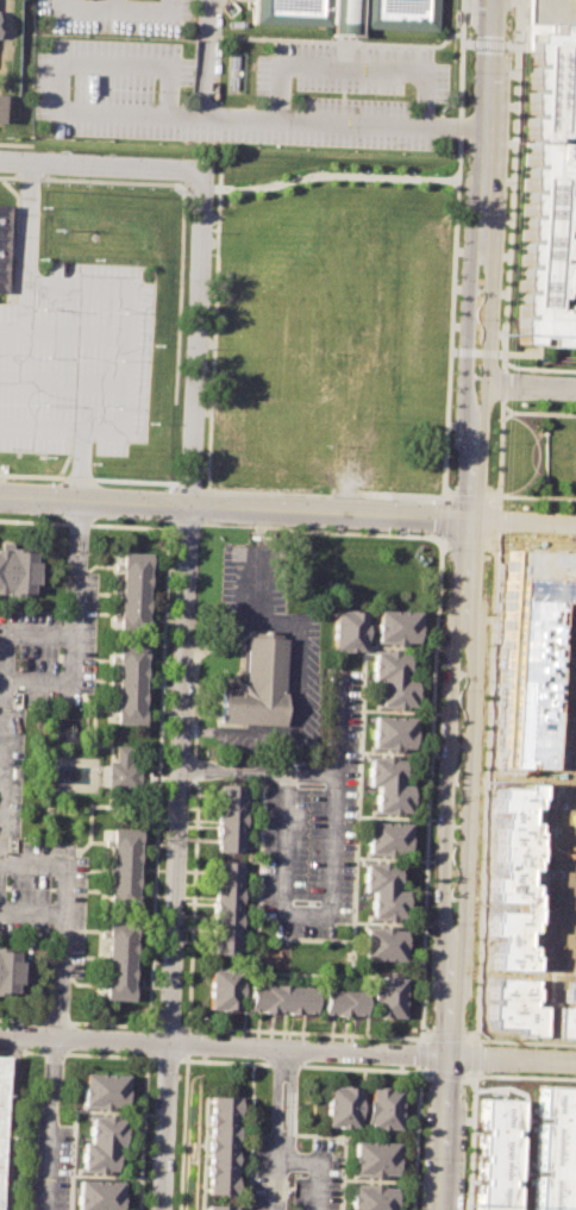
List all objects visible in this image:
road: (114, 4)
road: (115, 8)
building: (552, 11)
parking garage: (552, 11)
building: (344, 13)
parking lot: (118, 14)
road: (487, 43)
road: (207, 58)
road: (348, 68)
building: (575, 68)
road: (55, 79)
parking lot: (349, 92)
road: (487, 108)
road: (345, 123)
road: (102, 170)
building: (546, 189)
building: (0, 233)
road: (24, 259)
road: (505, 288)
road: (129, 331)
road: (75, 333)
power tower: (505, 333)
road: (474, 352)
parking lot: (76, 358)
road: (464, 368)
road: (538, 368)
road: (482, 369)
road: (63, 381)
road: (528, 388)
road: (537, 412)
road: (505, 415)
road: (39, 432)
park: (531, 454)
road: (79, 470)
road: (469, 496)
road: (238, 512)
road: (526, 524)
road: (68, 528)
road: (82, 528)
road: (465, 545)
building: (14, 571)
road: (251, 585)
building: (132, 590)
road: (280, 621)
road: (73, 628)
building: (394, 628)
building: (345, 632)
road: (219, 637)
building: (530, 647)
building: (392, 682)
building: (255, 684)
building: (130, 685)
road: (186, 692)
road: (336, 726)
road: (295, 727)
road: (431, 728)
road: (198, 731)
building: (390, 733)
road: (447, 740)
road: (467, 740)
road: (484, 765)
building: (120, 771)
road: (259, 771)
power tower: (488, 783)
building: (387, 786)
building: (226, 820)
building: (386, 839)
building: (121, 867)
building: (518, 873)
building: (382, 890)
road: (60, 895)
building: (223, 909)
road: (303, 913)
building: (381, 945)
building: (118, 959)
building: (6, 971)
building: (220, 990)
building: (386, 998)
building: (277, 1001)
building: (339, 1003)
building: (518, 1005)
road: (50, 1014)
road: (61, 1014)
building: (568, 1015)
road: (446, 1035)
road: (474, 1041)
road: (288, 1048)
road: (472, 1057)
building: (0, 1071)
road: (282, 1072)
road: (430, 1073)
road: (446, 1083)
building: (100, 1090)
building: (339, 1105)
building: (381, 1108)
road: (11, 1123)
road: (48, 1123)
road: (470, 1140)
building: (99, 1142)
building: (219, 1143)
building: (552, 1148)
road: (280, 1154)
building: (495, 1155)
building: (372, 1156)
road: (313, 1166)
building: (96, 1195)
building: (371, 1197)
power tower: (470, 1205)
building: (215, 1206)

